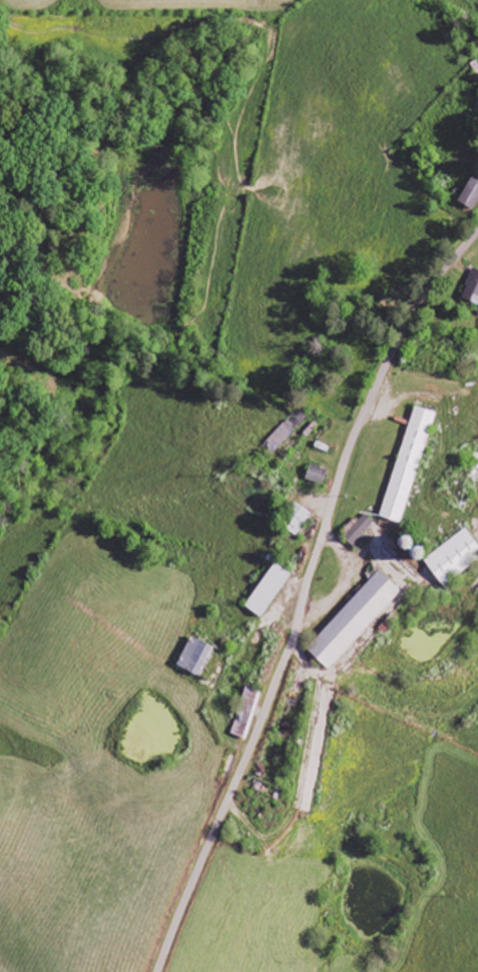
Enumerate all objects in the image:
building: (471, 195)
building: (472, 288)
building: (285, 432)
building: (408, 465)
building: (317, 475)
building: (298, 521)
building: (360, 533)
building: (454, 557)
building: (268, 591)
road: (305, 593)
building: (354, 620)
building: (196, 657)

